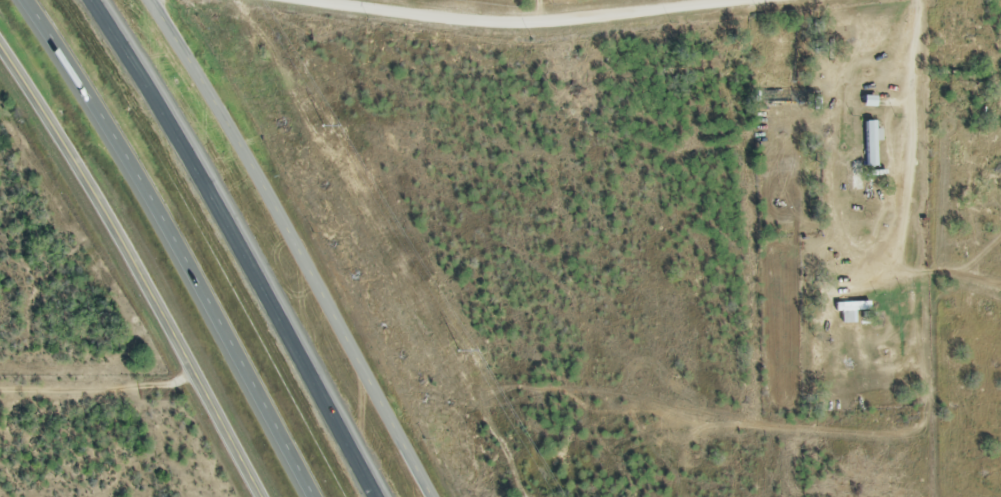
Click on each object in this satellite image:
road: (537, 12)
road: (517, 23)
power tower: (320, 124)
building: (869, 145)
road: (905, 213)
road: (179, 241)
road: (241, 245)
road: (296, 246)
road: (137, 267)
building: (848, 311)
power tower: (455, 350)

